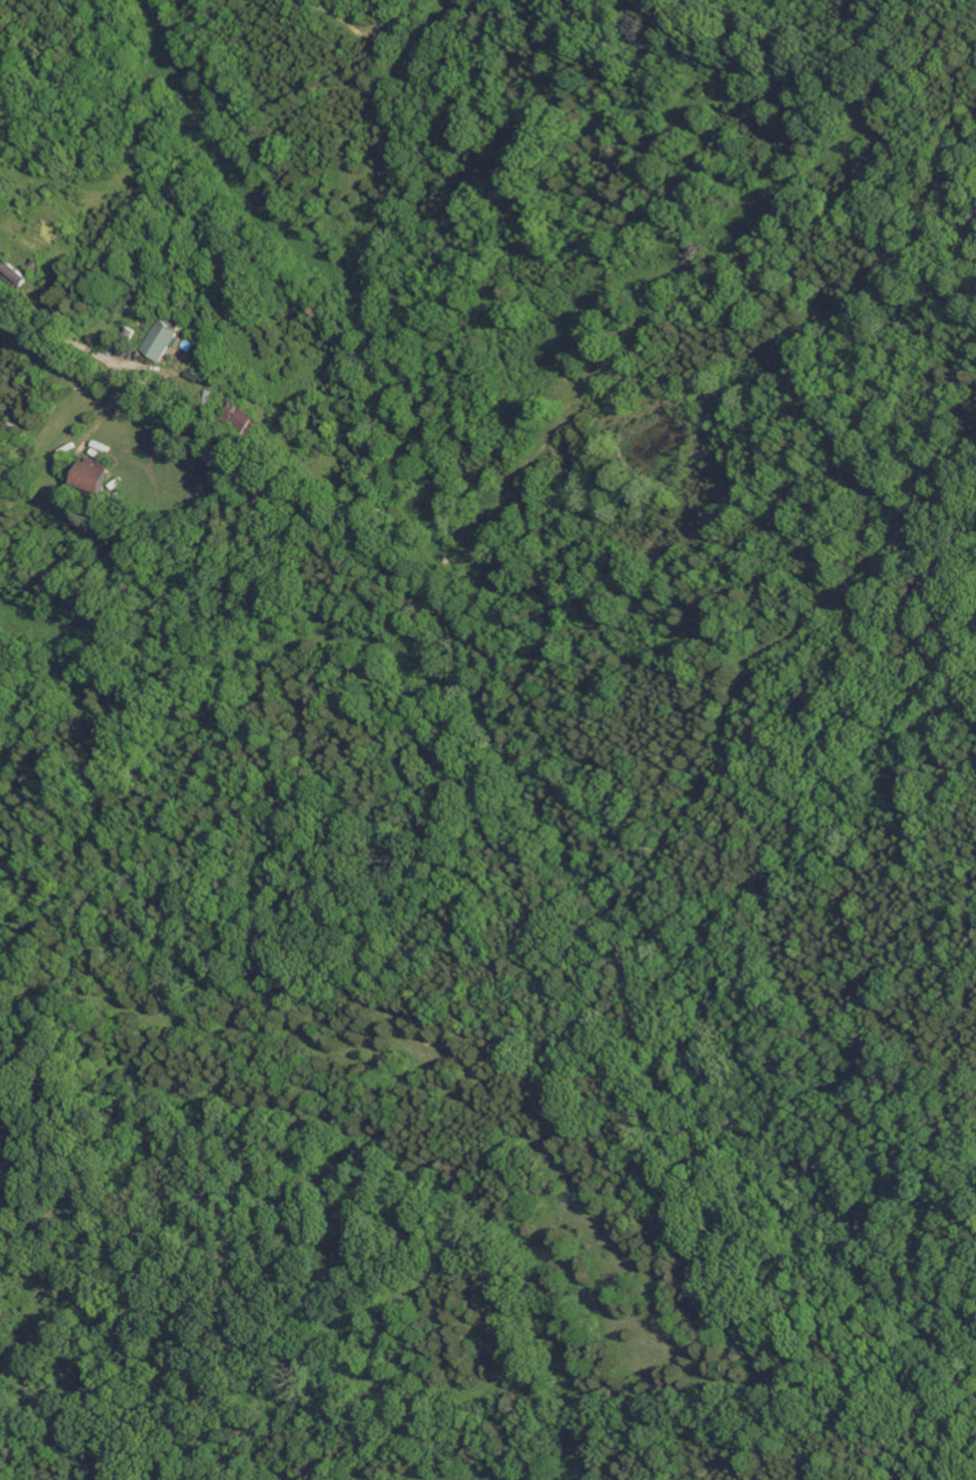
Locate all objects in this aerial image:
building: (160, 340)
road: (88, 371)
building: (98, 474)

